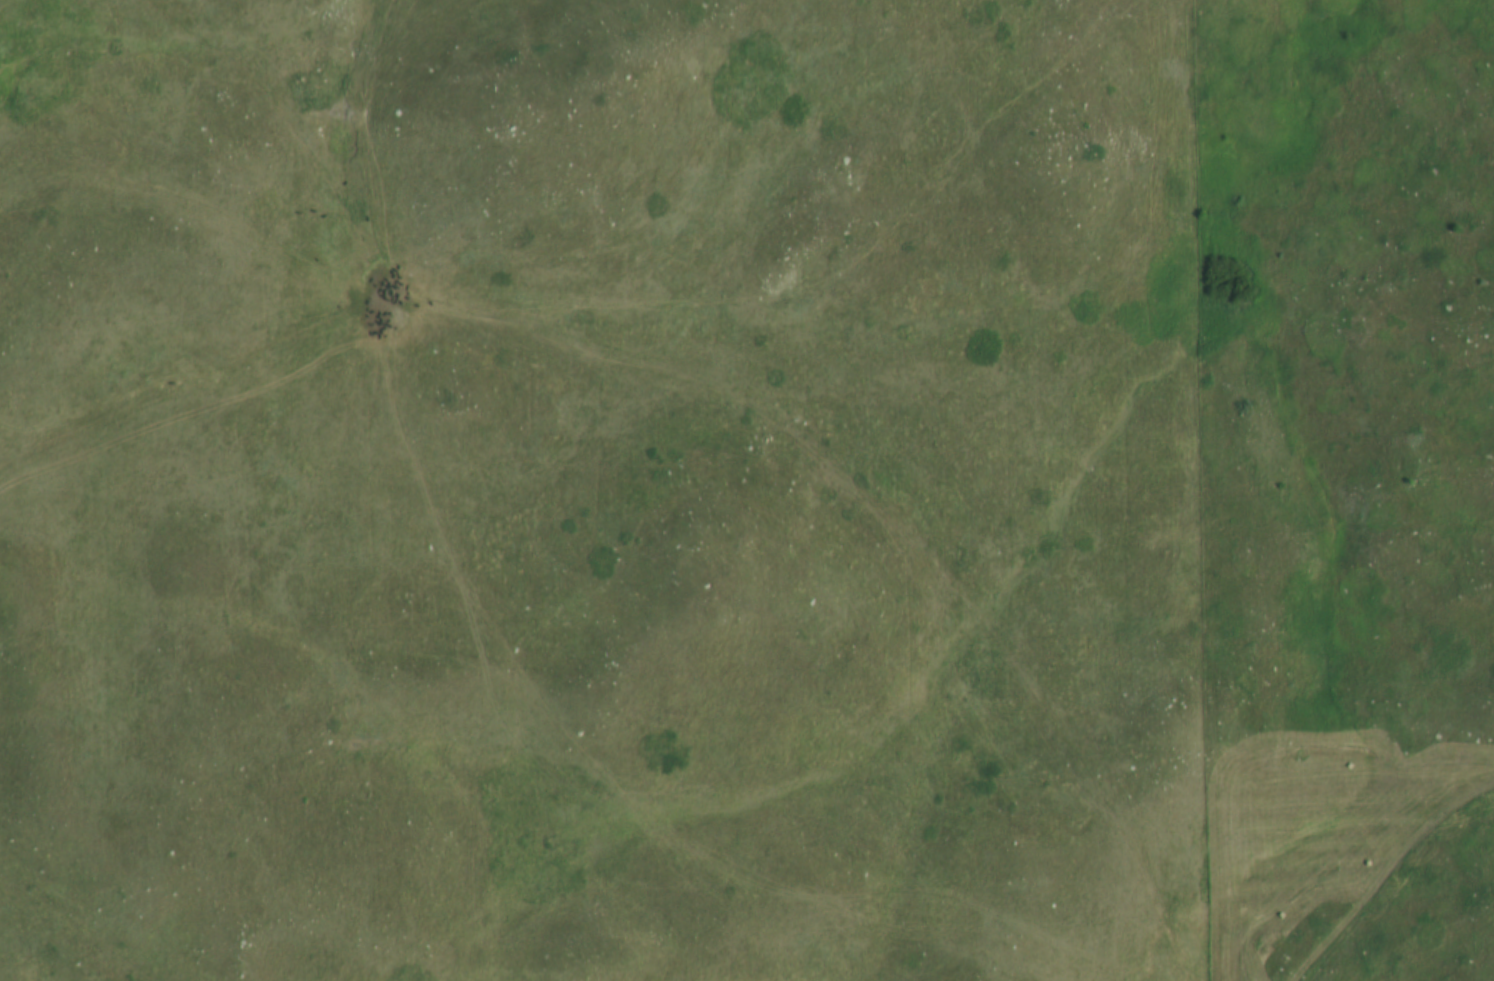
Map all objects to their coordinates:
road: (1344, 860)

